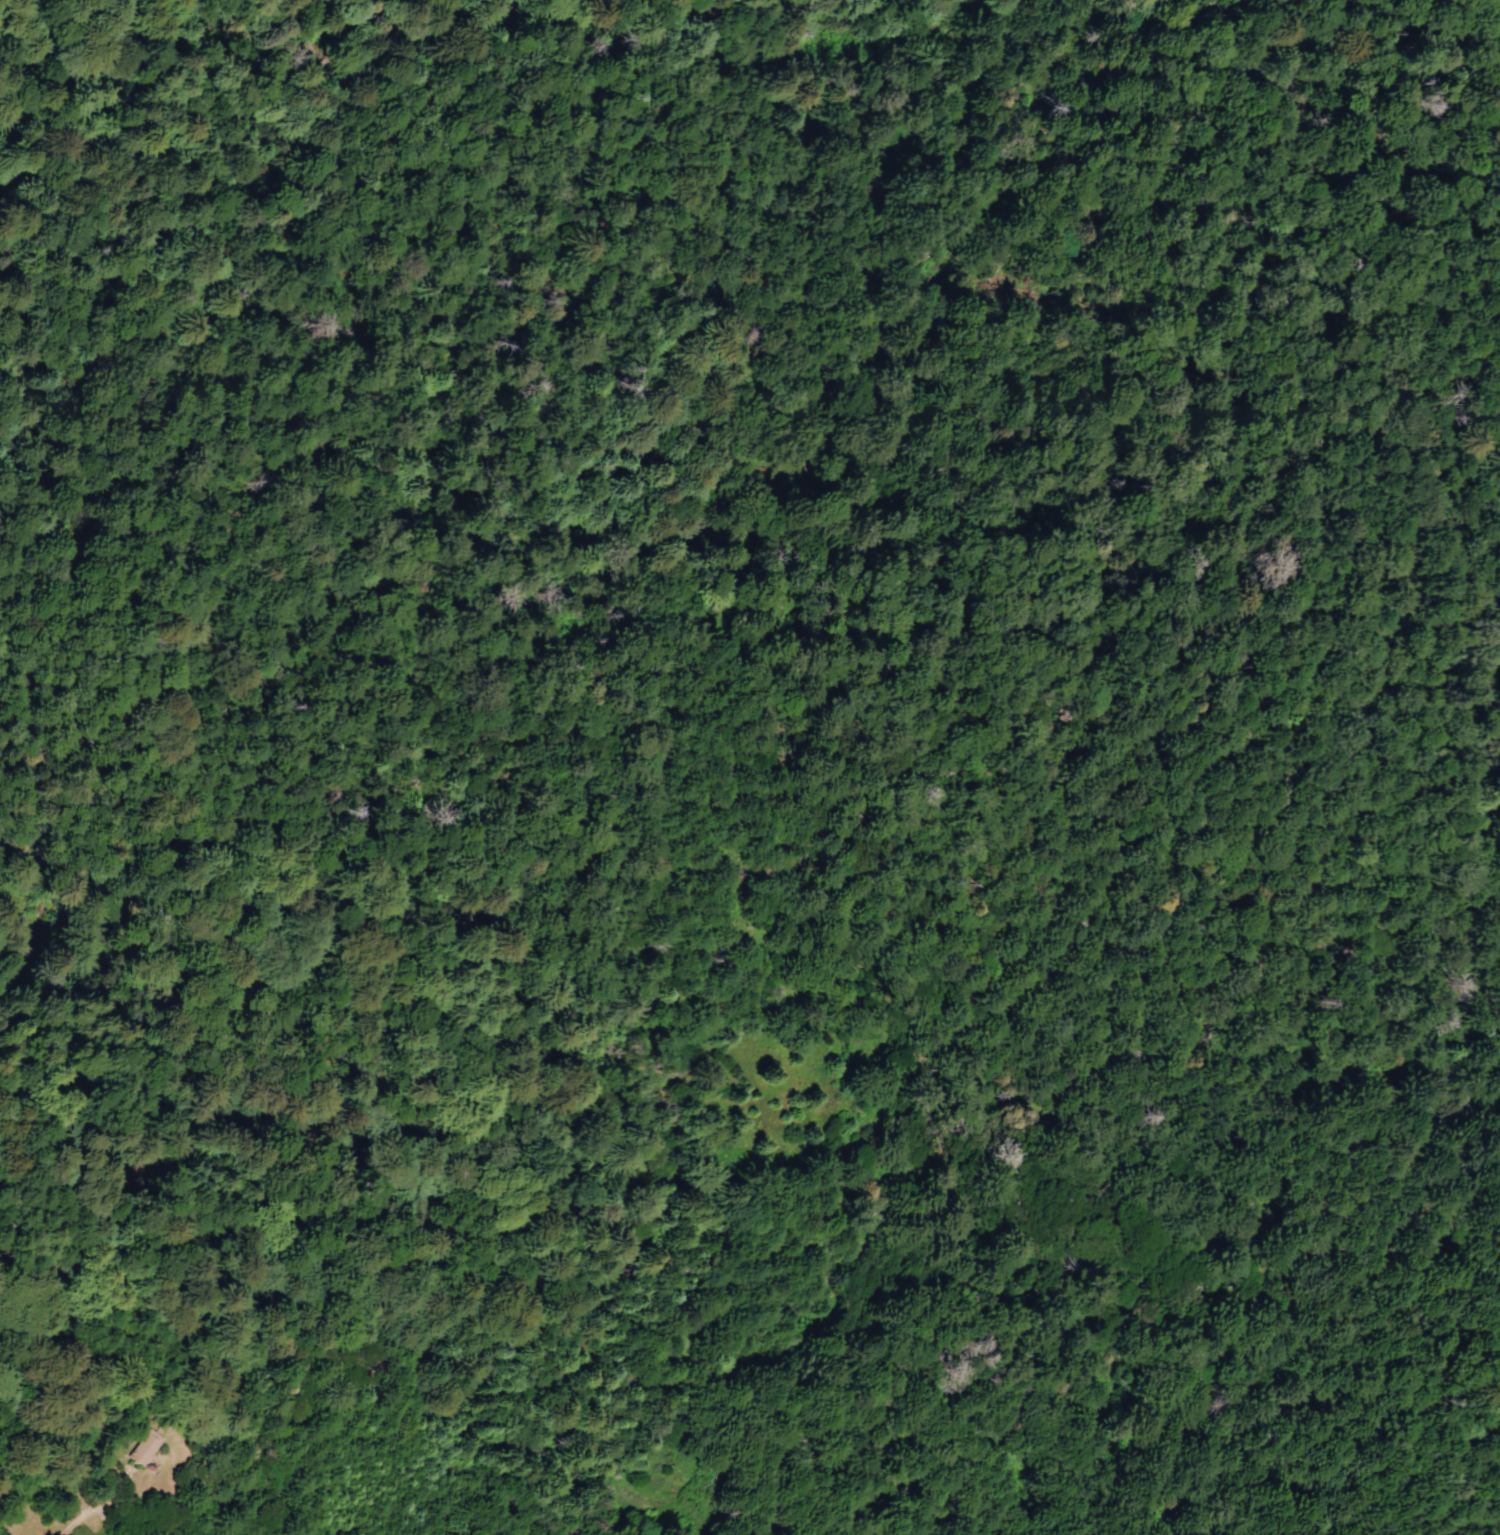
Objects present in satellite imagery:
road: (397, 15)
road: (22, 45)
road: (670, 82)
road: (305, 214)
road: (1073, 528)
road: (602, 717)
road: (1224, 1312)
building: (144, 1449)
building: (154, 1468)
road: (101, 1528)
road: (1492, 1529)

